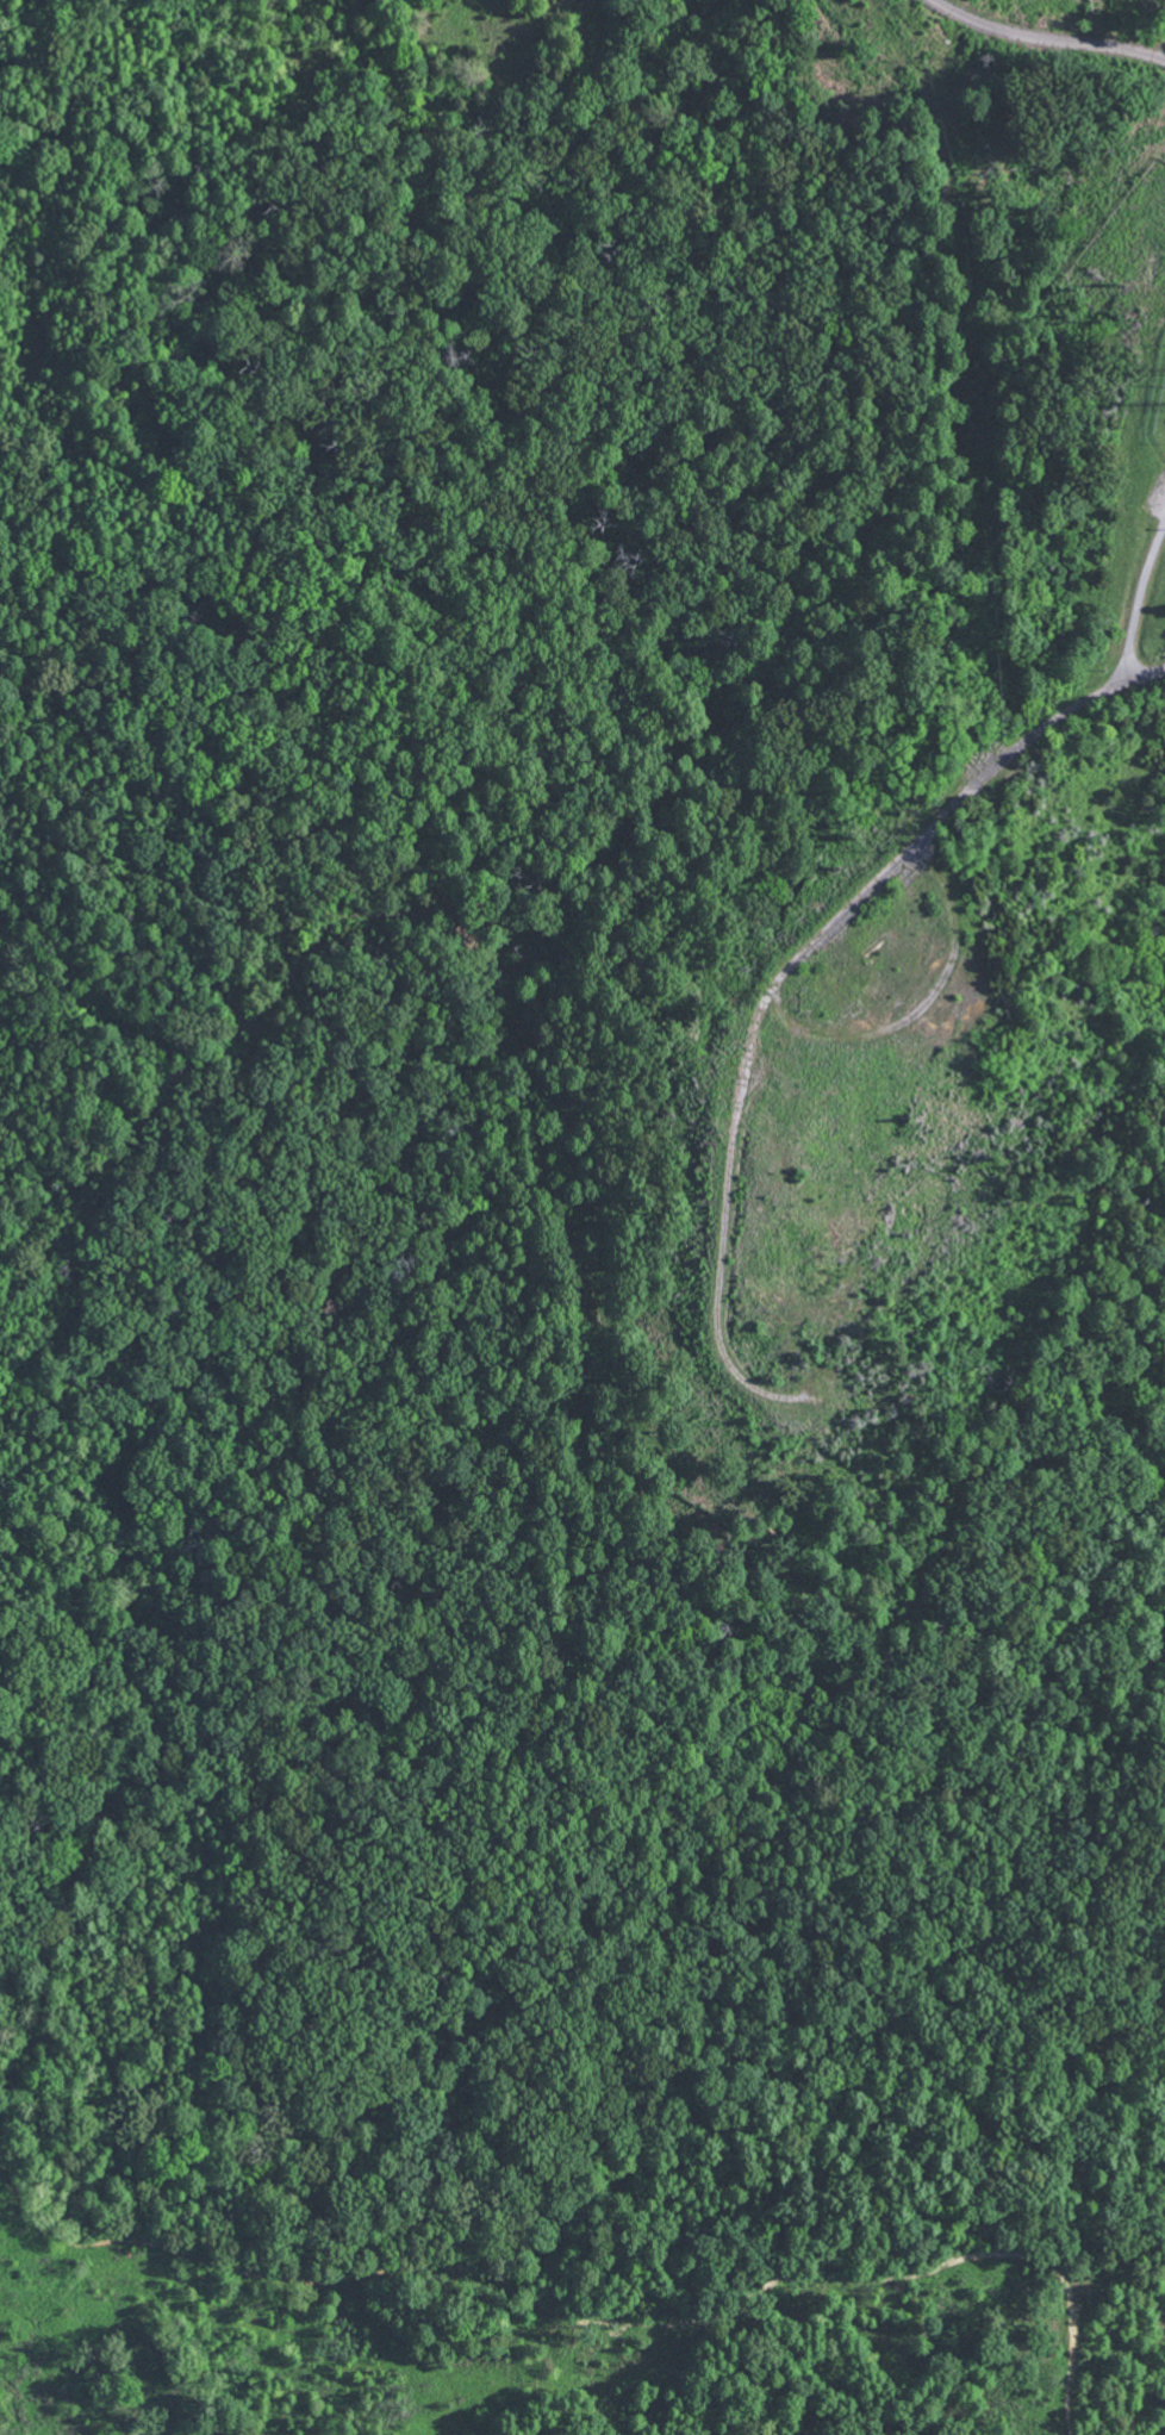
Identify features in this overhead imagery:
road: (1047, 39)
road: (1140, 598)
road: (1120, 683)

